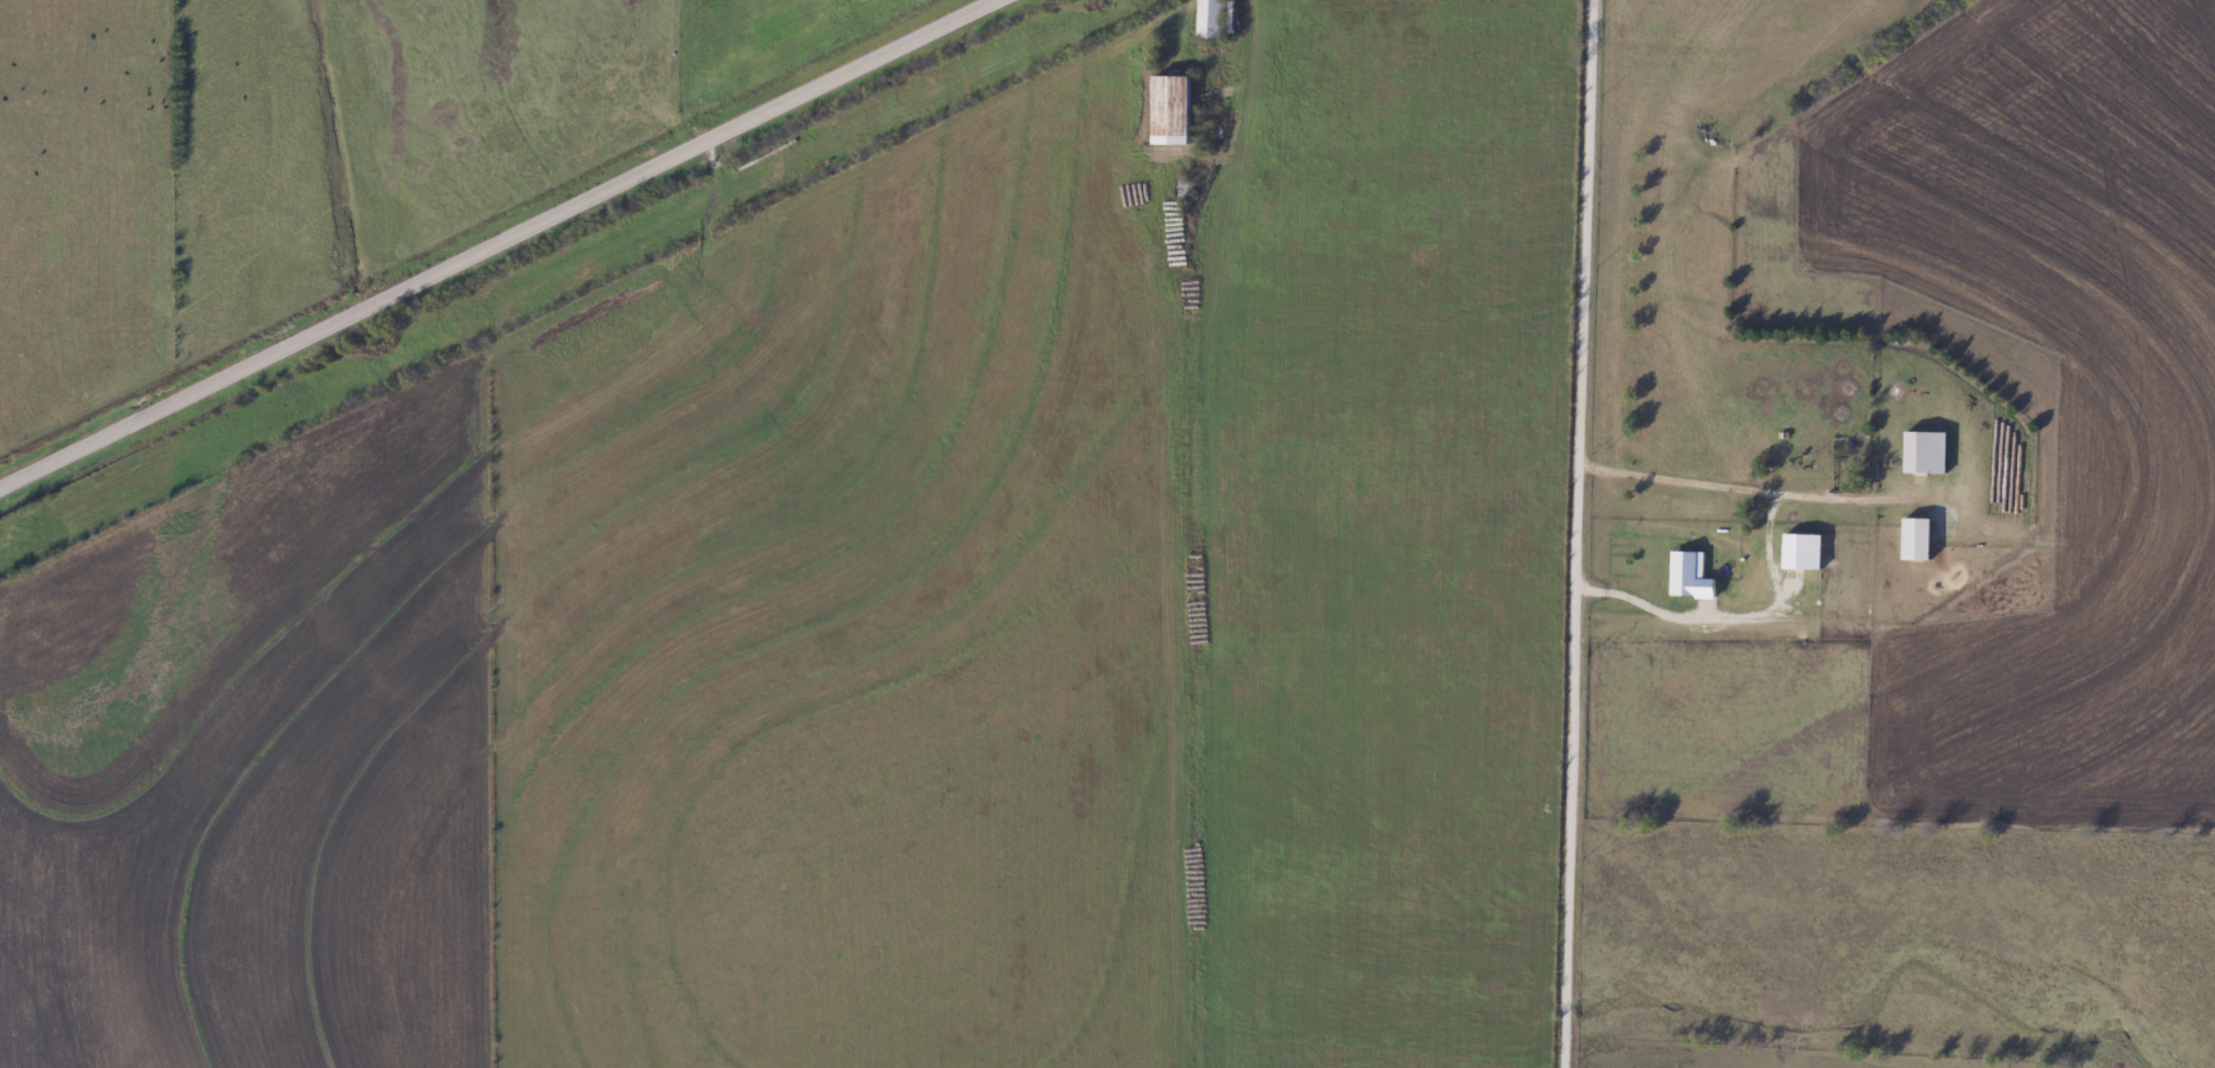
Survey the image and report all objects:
building: (1210, 19)
building: (1172, 111)
road: (1236, 120)
road: (498, 244)
building: (1926, 454)
road: (1719, 487)
road: (1573, 533)
road: (1637, 609)

